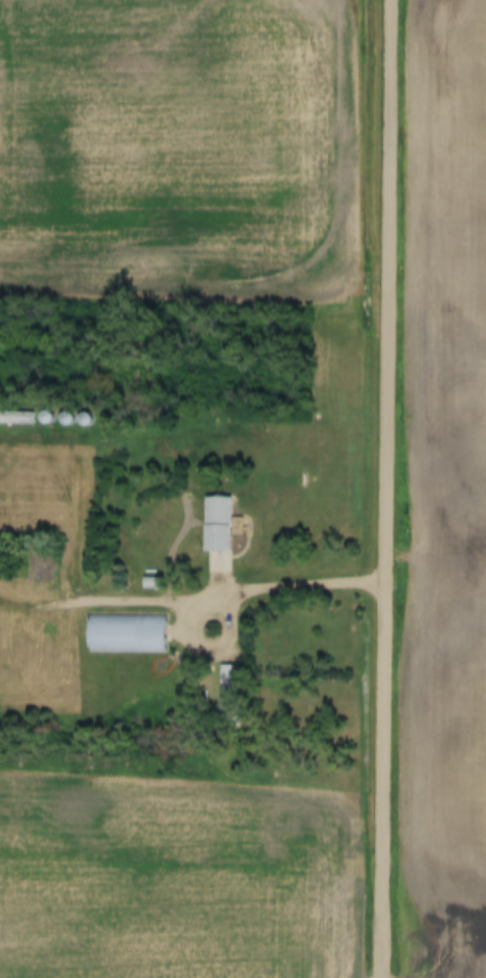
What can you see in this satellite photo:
building: (15, 418)
building: (84, 421)
road: (390, 488)
building: (217, 524)
road: (226, 585)
building: (125, 634)
building: (227, 691)

